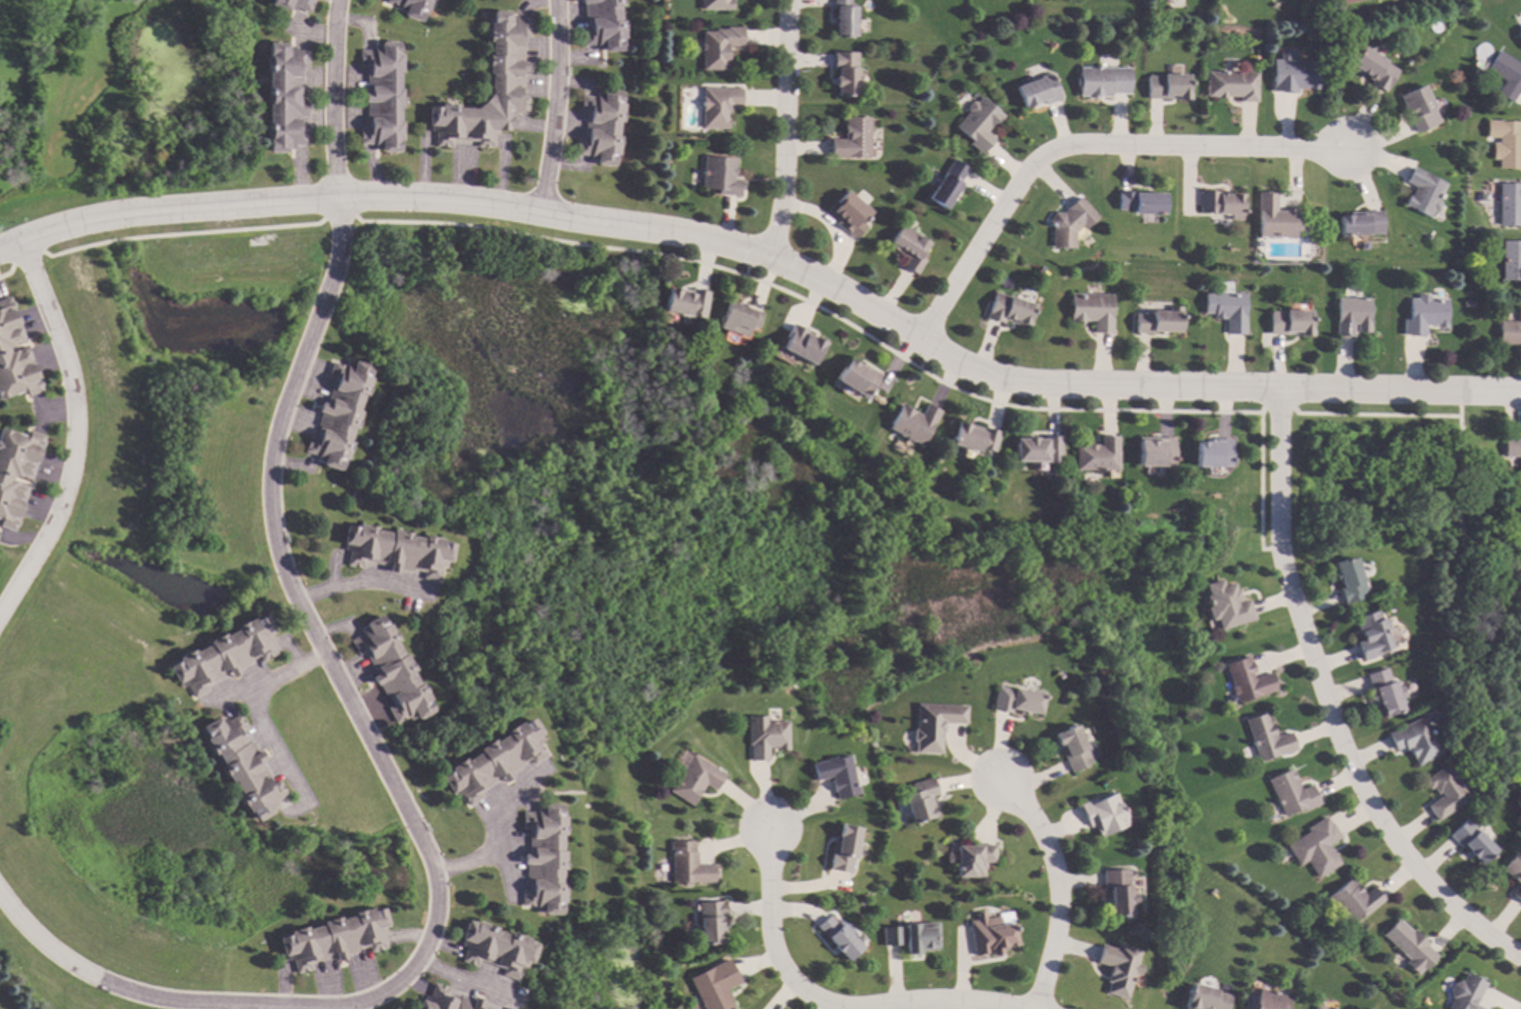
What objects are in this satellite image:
building: (1347, 1)
building: (292, 4)
building: (716, 4)
building: (411, 8)
building: (844, 18)
building: (604, 24)
building: (1520, 31)
building: (1519, 35)
building: (719, 46)
building: (1372, 69)
building: (845, 72)
building: (1293, 74)
building: (1506, 74)
building: (1102, 81)
building: (507, 83)
building: (1231, 85)
building: (1167, 87)
building: (1037, 91)
building: (284, 97)
building: (381, 97)
road: (335, 99)
building: (719, 105)
road: (558, 106)
building: (1417, 108)
building: (978, 123)
building: (602, 126)
road: (786, 127)
building: (853, 139)
road: (1080, 145)
building: (1508, 145)
building: (720, 175)
building: (948, 184)
building: (1422, 193)
building: (1140, 201)
building: (1220, 204)
building: (1509, 204)
building: (849, 214)
building: (1274, 218)
building: (1069, 223)
building: (1359, 224)
road: (837, 228)
building: (261, 238)
building: (1362, 245)
building: (909, 248)
building: (317, 250)
road: (771, 252)
building: (1511, 261)
building: (686, 302)
building: (1468, 303)
building: (1010, 310)
building: (1093, 310)
building: (1226, 310)
building: (1424, 315)
building: (1351, 316)
building: (738, 319)
building: (1159, 321)
building: (1289, 323)
building: (1510, 330)
building: (802, 345)
building: (13, 357)
building: (857, 378)
building: (338, 412)
building: (913, 423)
road: (74, 430)
building: (973, 438)
building: (1037, 450)
building: (1513, 451)
building: (1154, 453)
building: (1212, 453)
building: (1097, 454)
building: (14, 473)
road: (1469, 542)
park: (1430, 548)
building: (395, 551)
road: (357, 572)
building: (1347, 580)
building: (1224, 605)
building: (1370, 634)
building: (222, 654)
building: (390, 671)
building: (1246, 680)
building: (1383, 692)
road: (250, 697)
building: (1016, 701)
road: (1330, 706)
building: (933, 725)
building: (764, 736)
building: (1266, 739)
building: (1414, 740)
building: (1071, 748)
building: (493, 761)
building: (240, 765)
building: (836, 775)
building: (693, 779)
building: (1443, 791)
building: (1289, 793)
road: (398, 800)
building: (919, 800)
building: (1102, 814)
building: (1470, 841)
road: (482, 845)
building: (1315, 847)
building: (842, 849)
building: (542, 859)
building: (969, 859)
road: (504, 861)
building: (686, 864)
building: (1514, 873)
road: (1058, 888)
building: (1117, 891)
building: (1351, 901)
building: (709, 921)
building: (988, 935)
building: (837, 937)
building: (910, 937)
building: (332, 939)
road: (771, 943)
building: (1409, 946)
building: (494, 950)
building: (1117, 968)
road: (466, 983)
building: (713, 986)
building: (1464, 993)
building: (1204, 998)
building: (445, 1000)
road: (945, 1000)
building: (1266, 1001)
building: (1316, 1007)
building: (504, 1008)
building: (1326, 1008)

